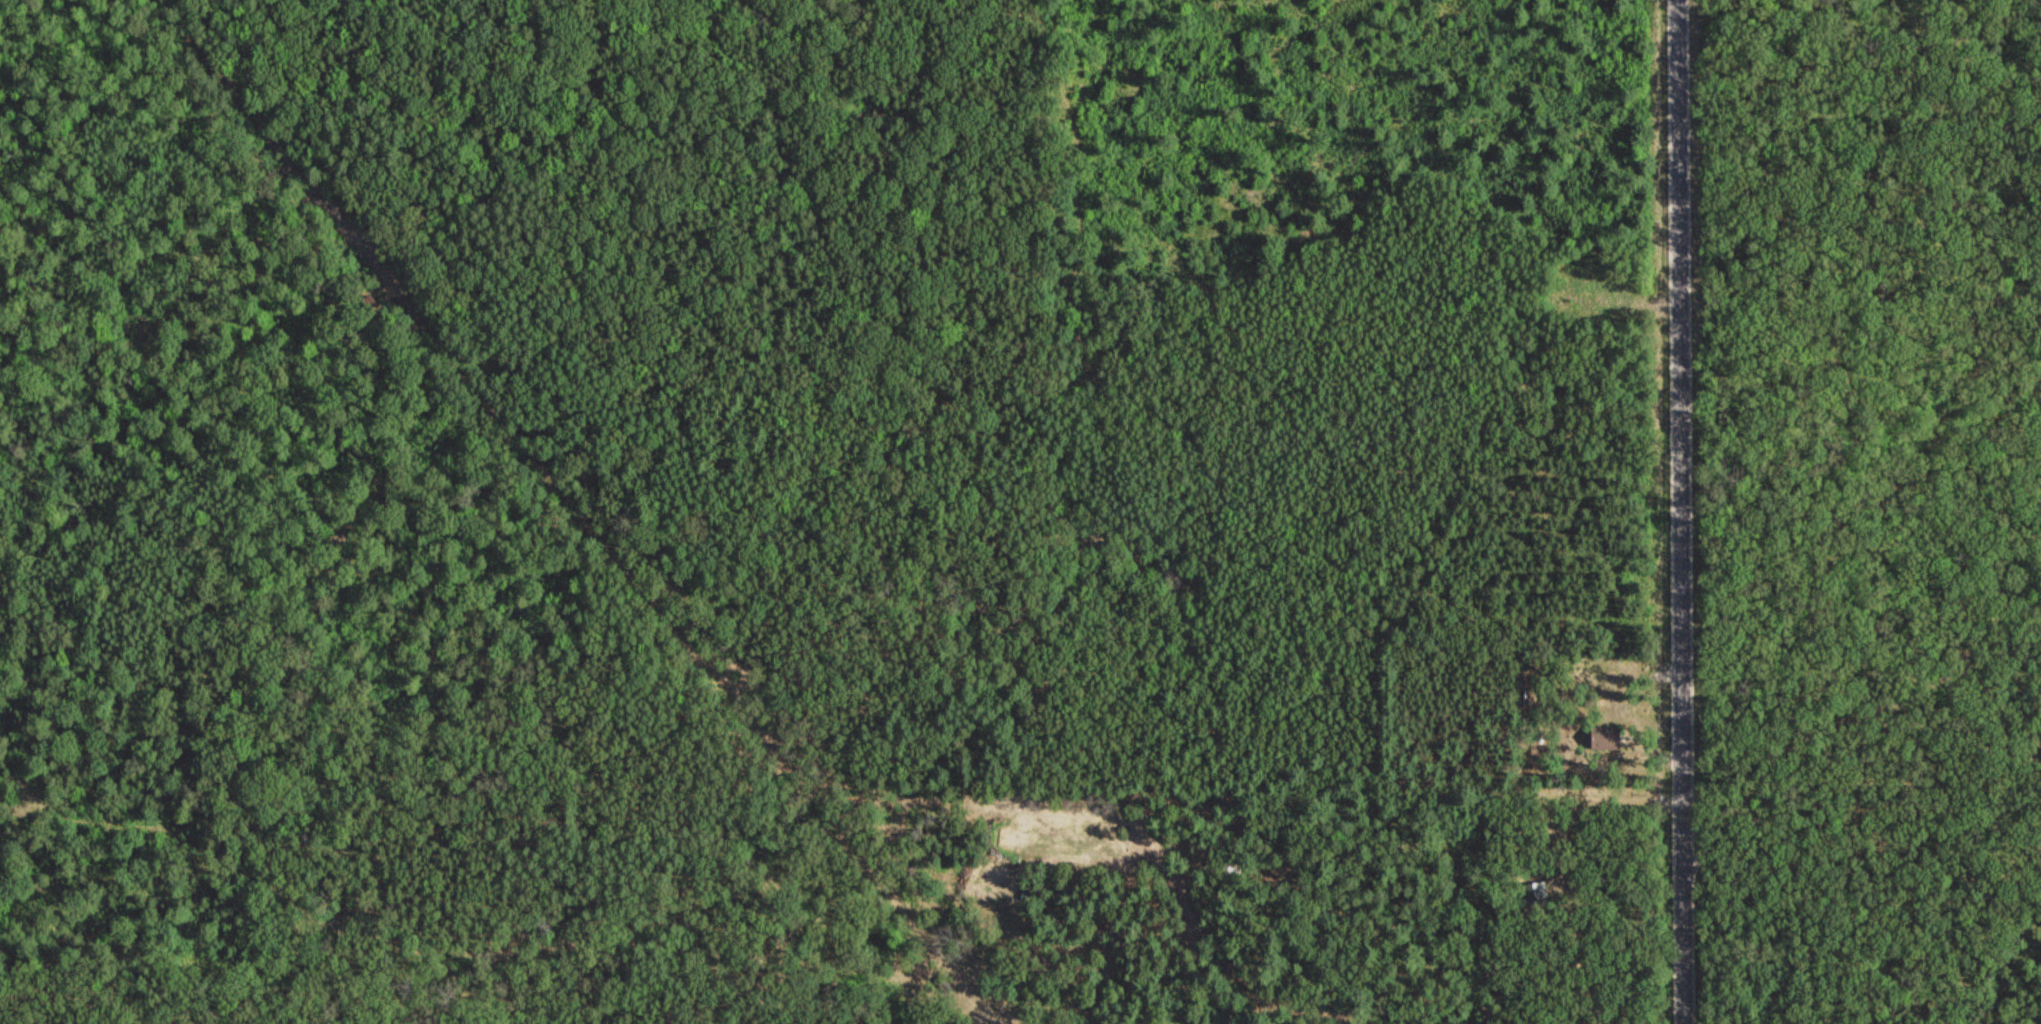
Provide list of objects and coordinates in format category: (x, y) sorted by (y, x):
road: (1684, 512)
road: (1382, 605)
building: (1602, 736)
building: (1533, 891)

